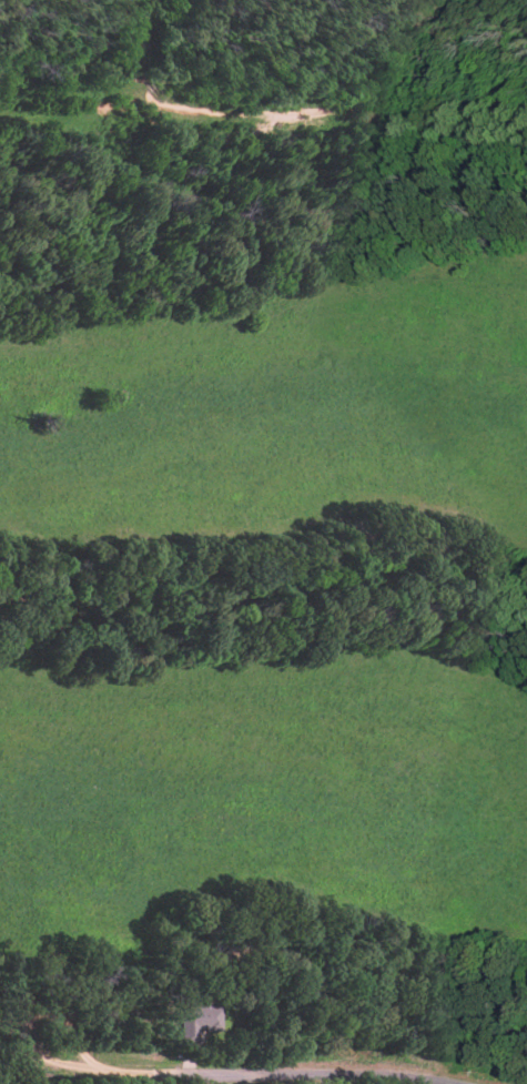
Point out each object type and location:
building: (197, 1022)
road: (250, 1072)

